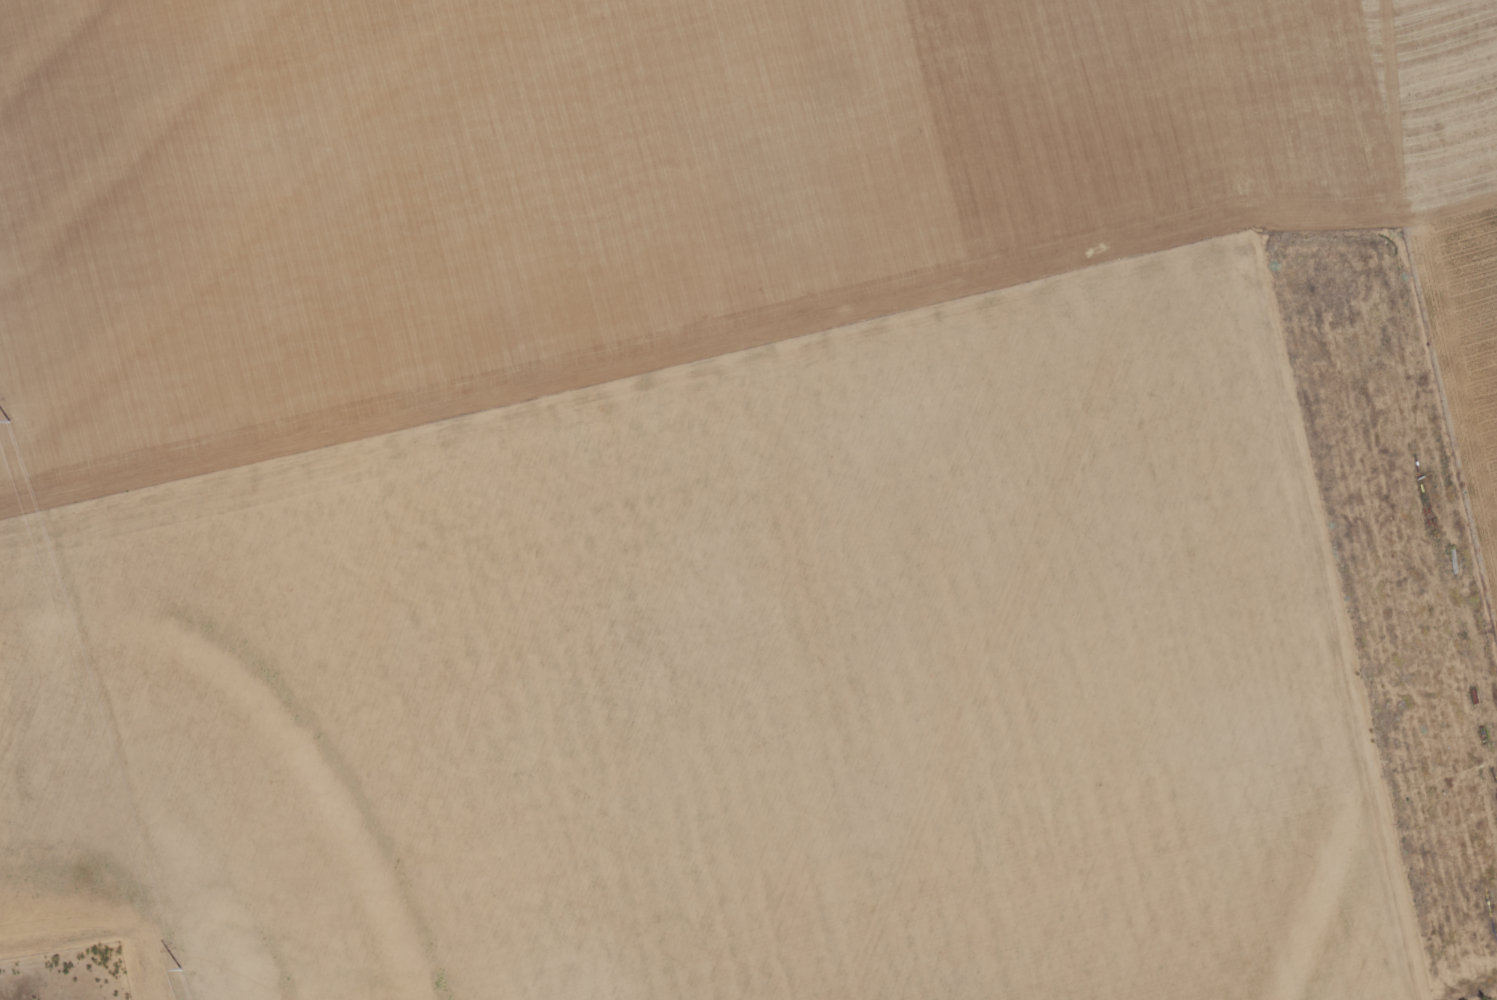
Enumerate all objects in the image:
power tower: (9, 422)
power tower: (181, 970)

